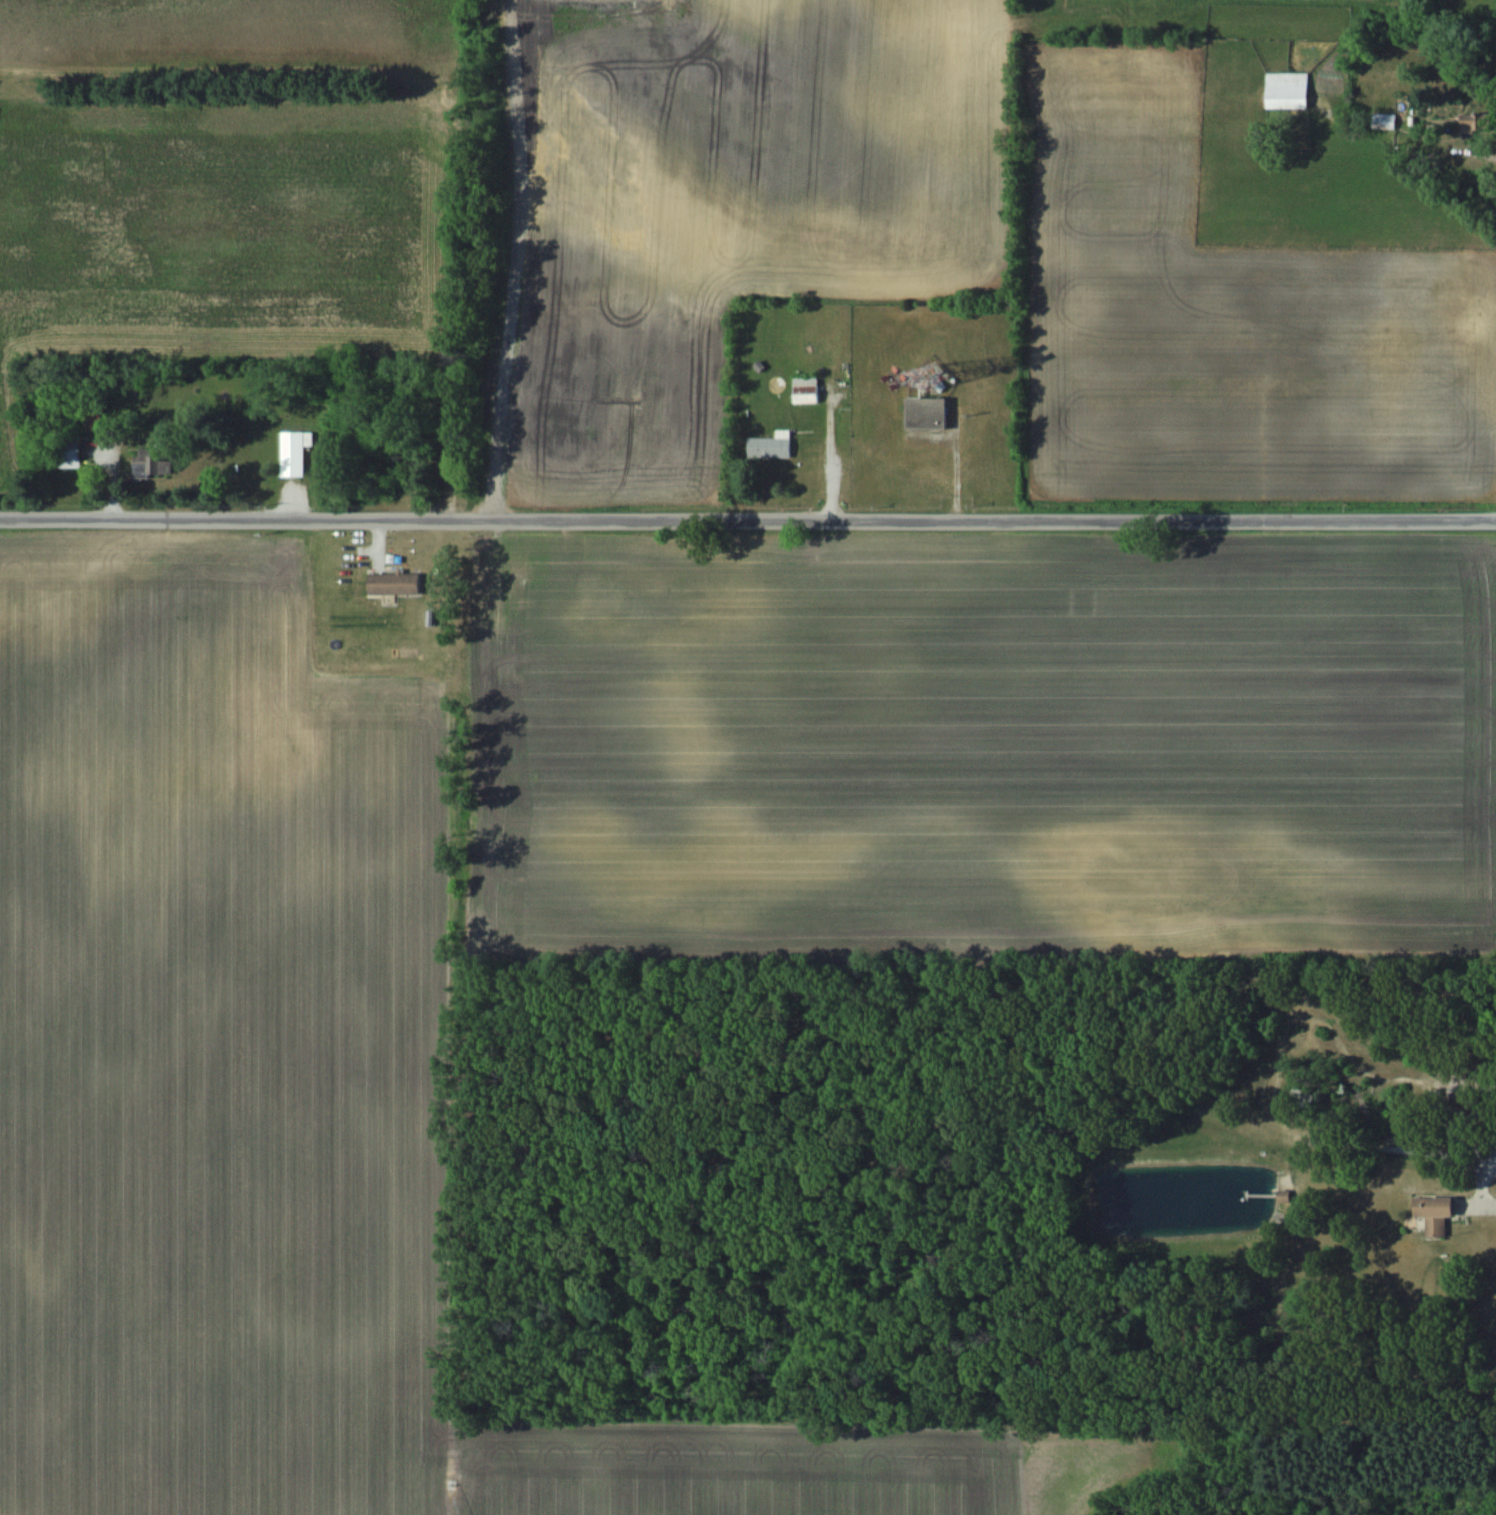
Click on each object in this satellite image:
building: (1289, 90)
building: (1384, 121)
building: (1477, 122)
building: (806, 390)
building: (929, 413)
building: (772, 446)
building: (293, 453)
building: (78, 454)
road: (747, 519)
building: (395, 584)
building: (1283, 1195)
building: (1438, 1214)

